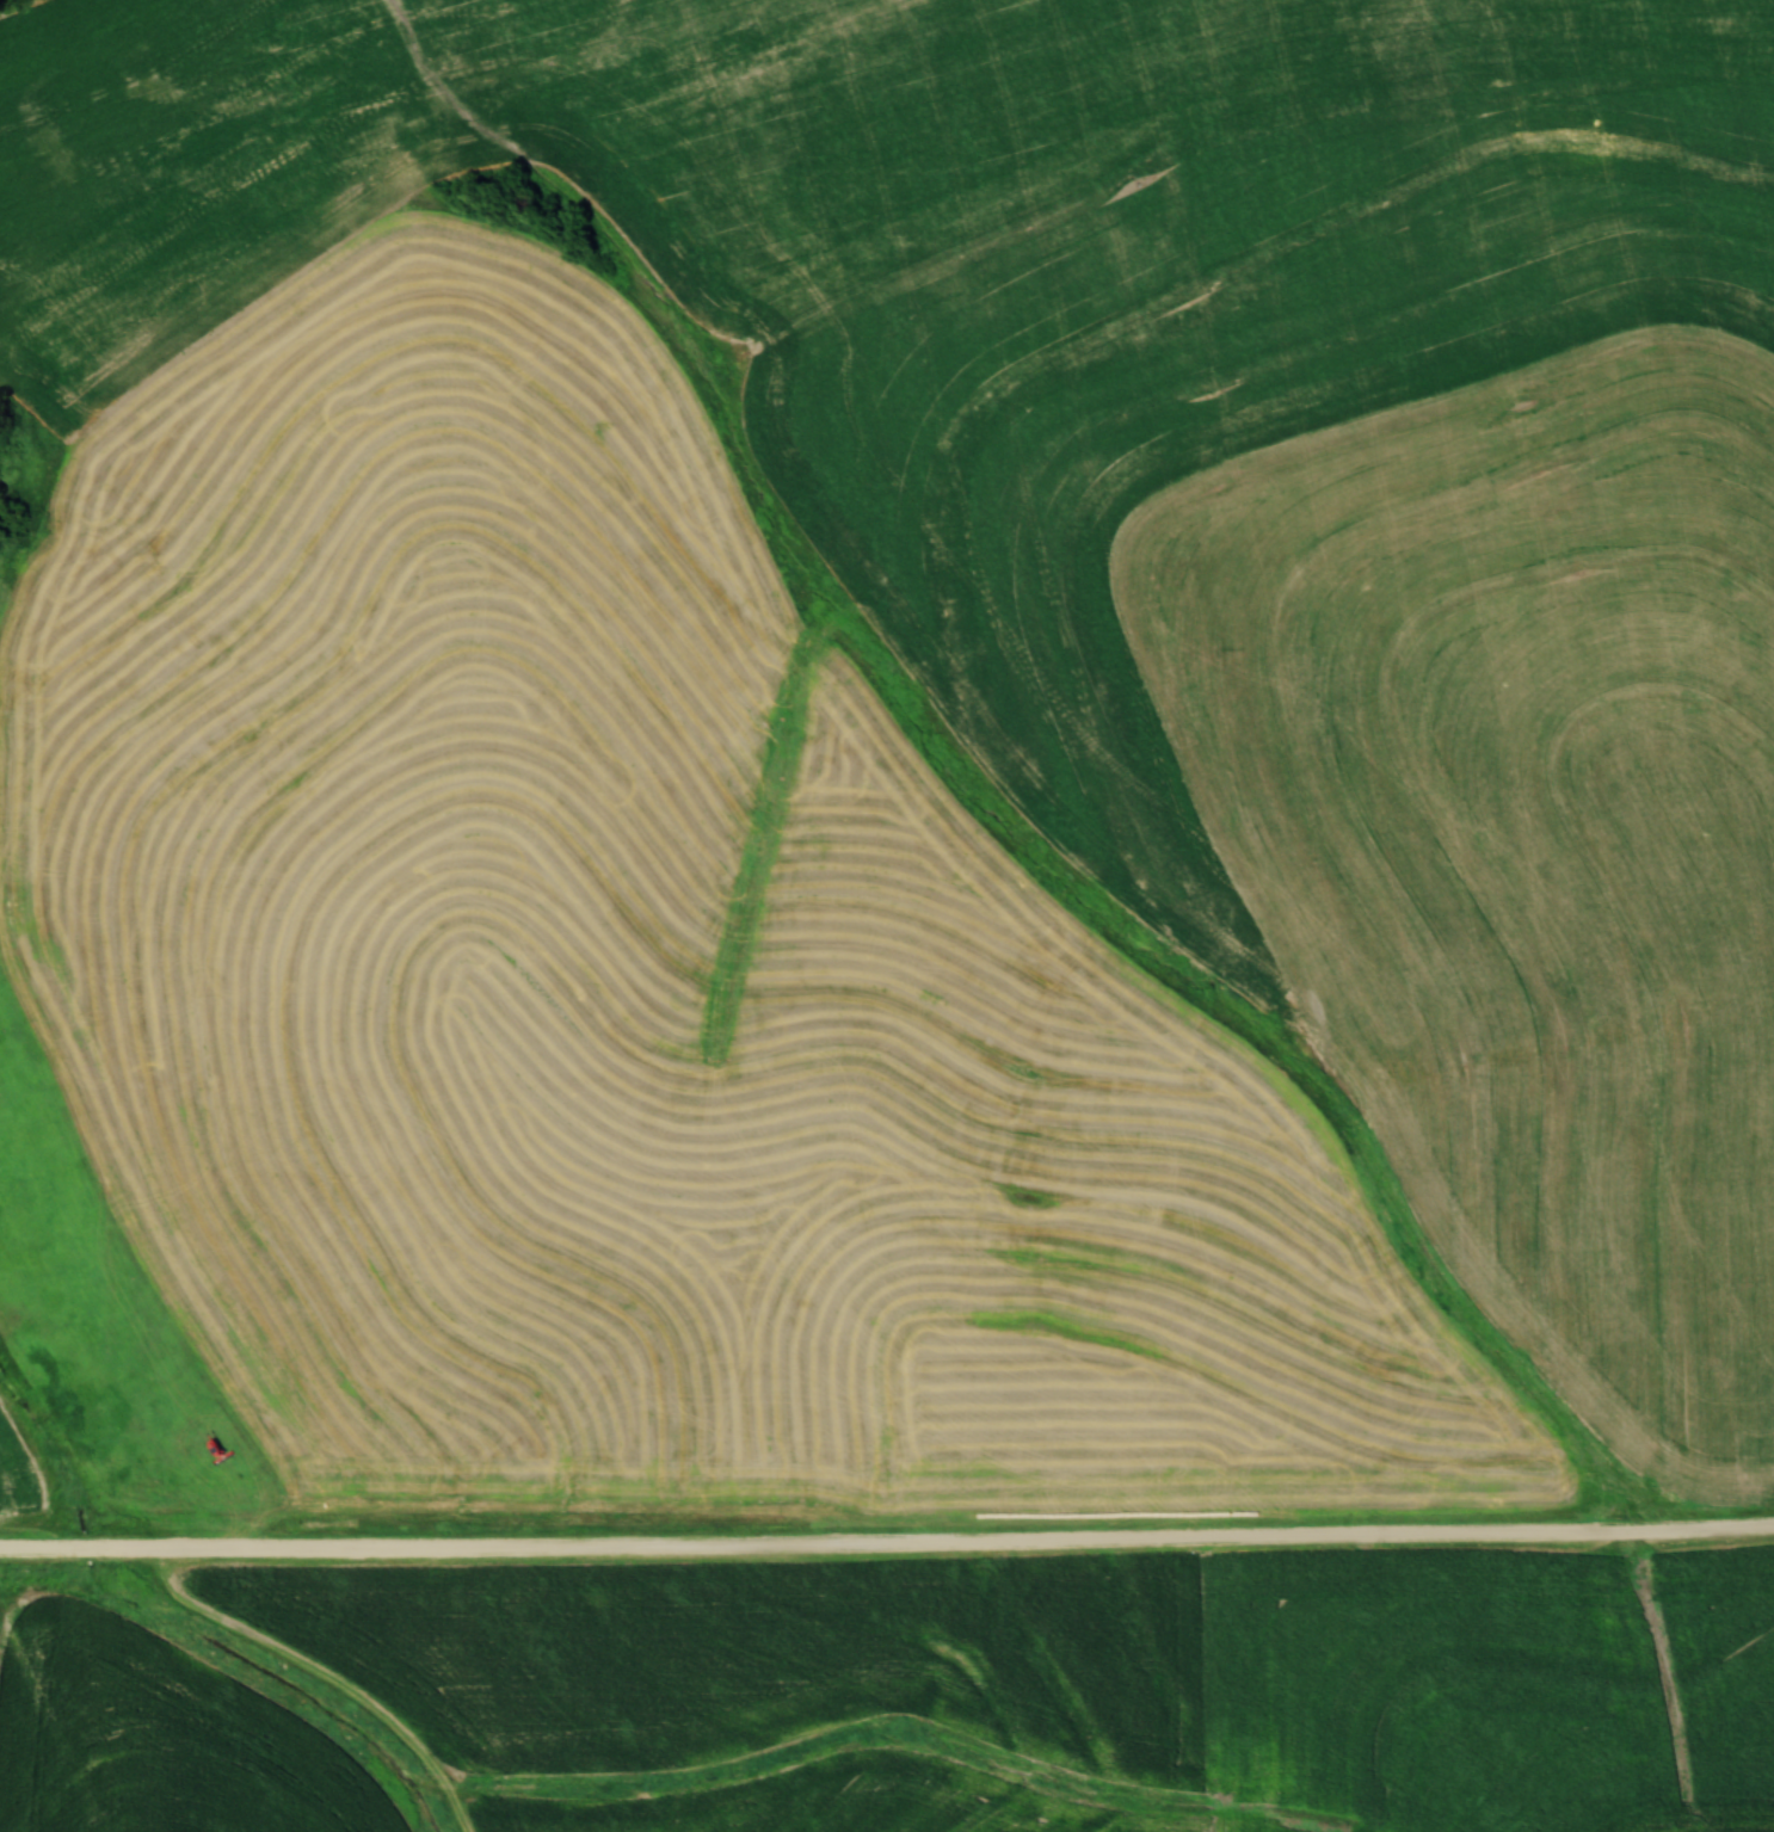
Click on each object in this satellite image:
road: (887, 1547)
road: (53, 1719)

